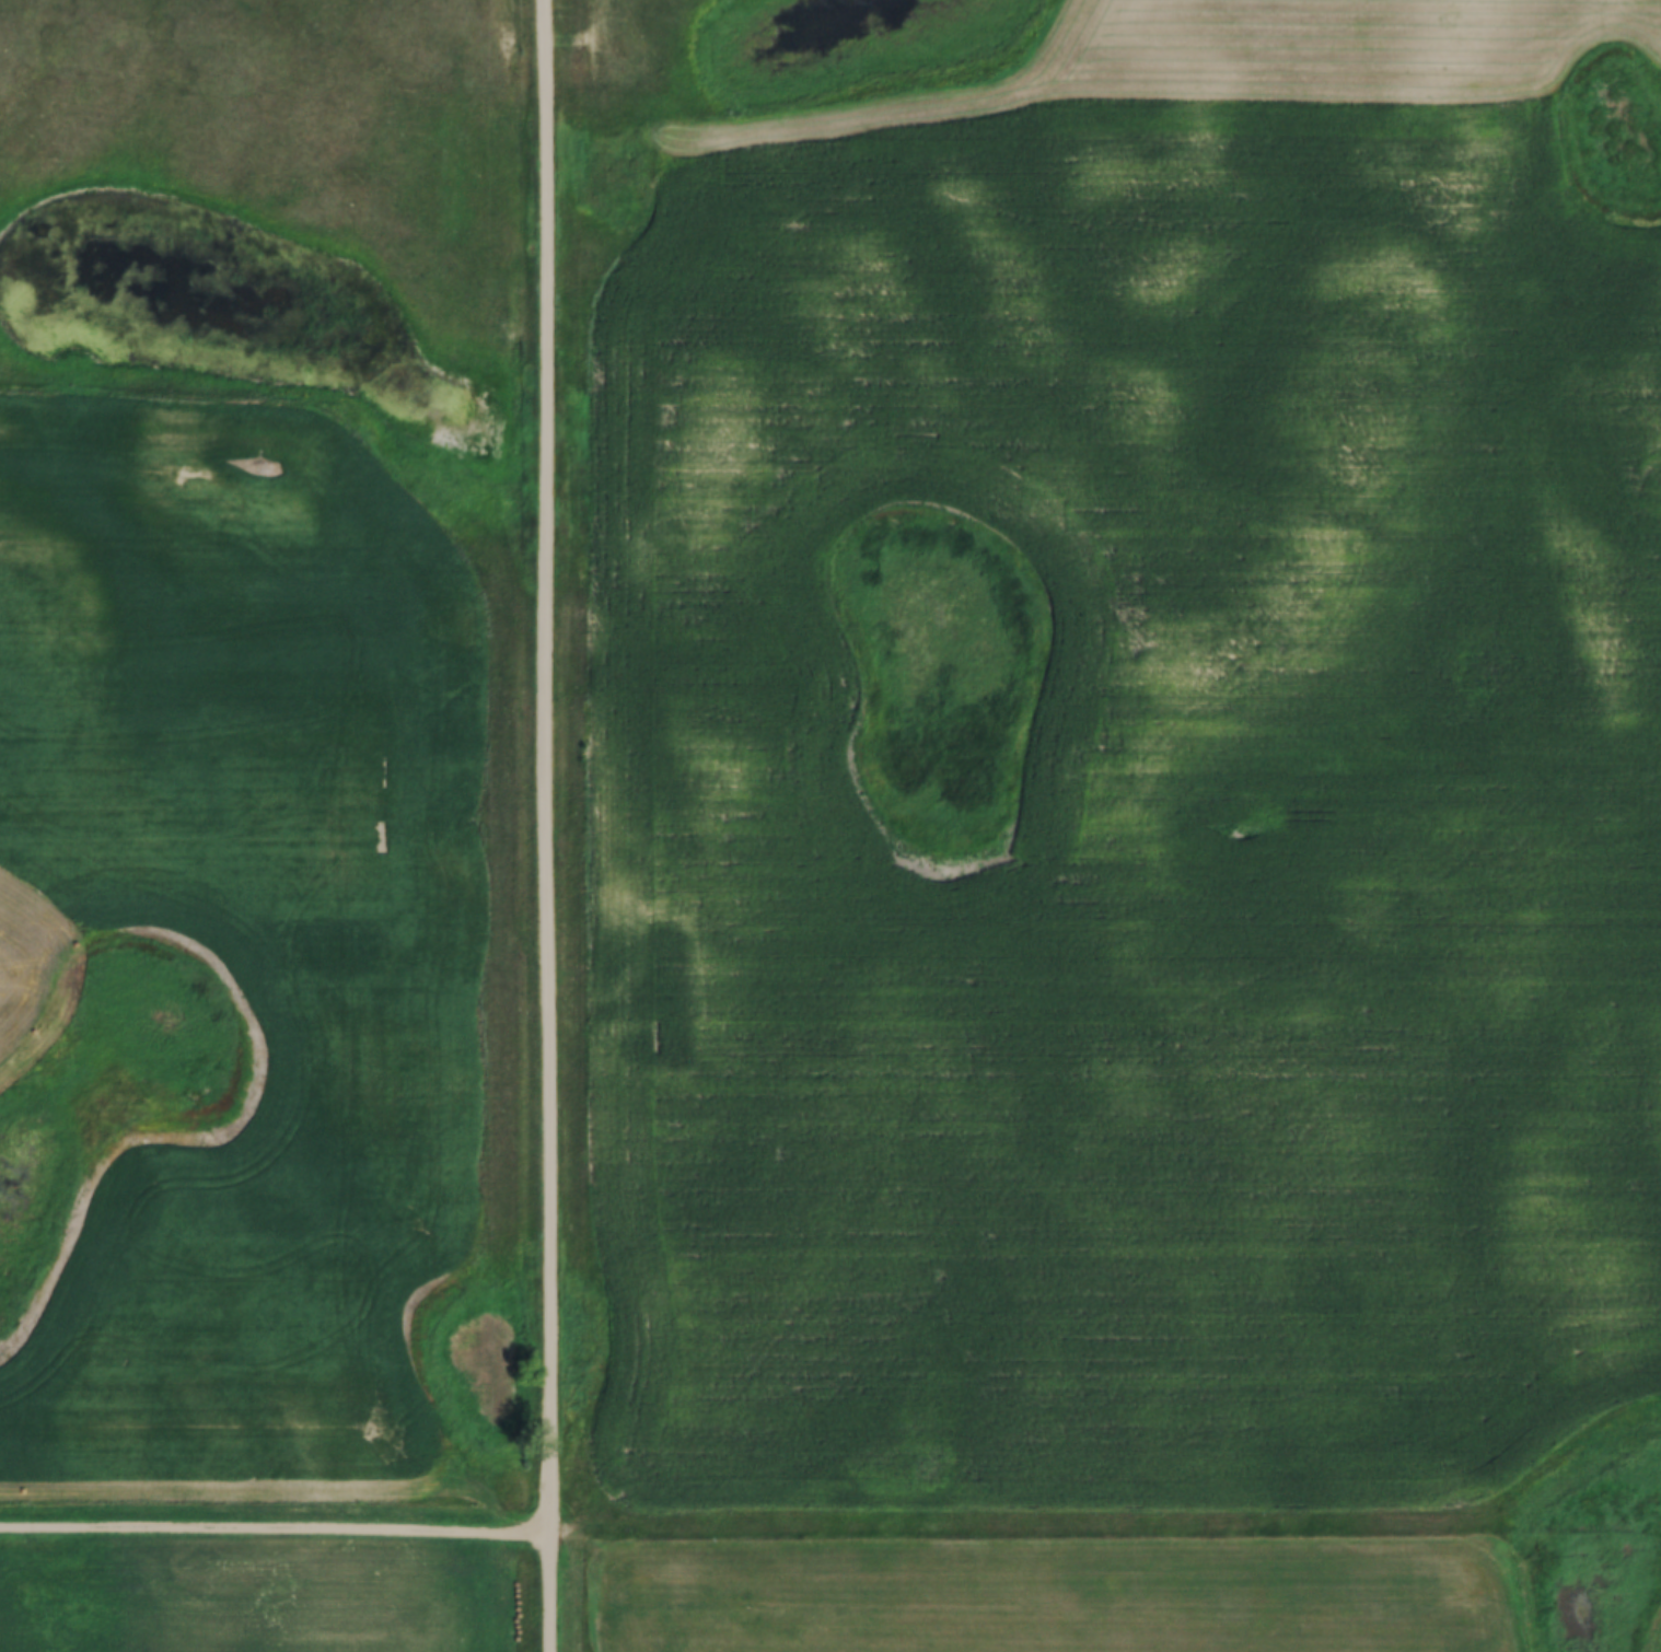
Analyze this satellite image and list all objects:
road: (545, 826)
road: (272, 1537)

